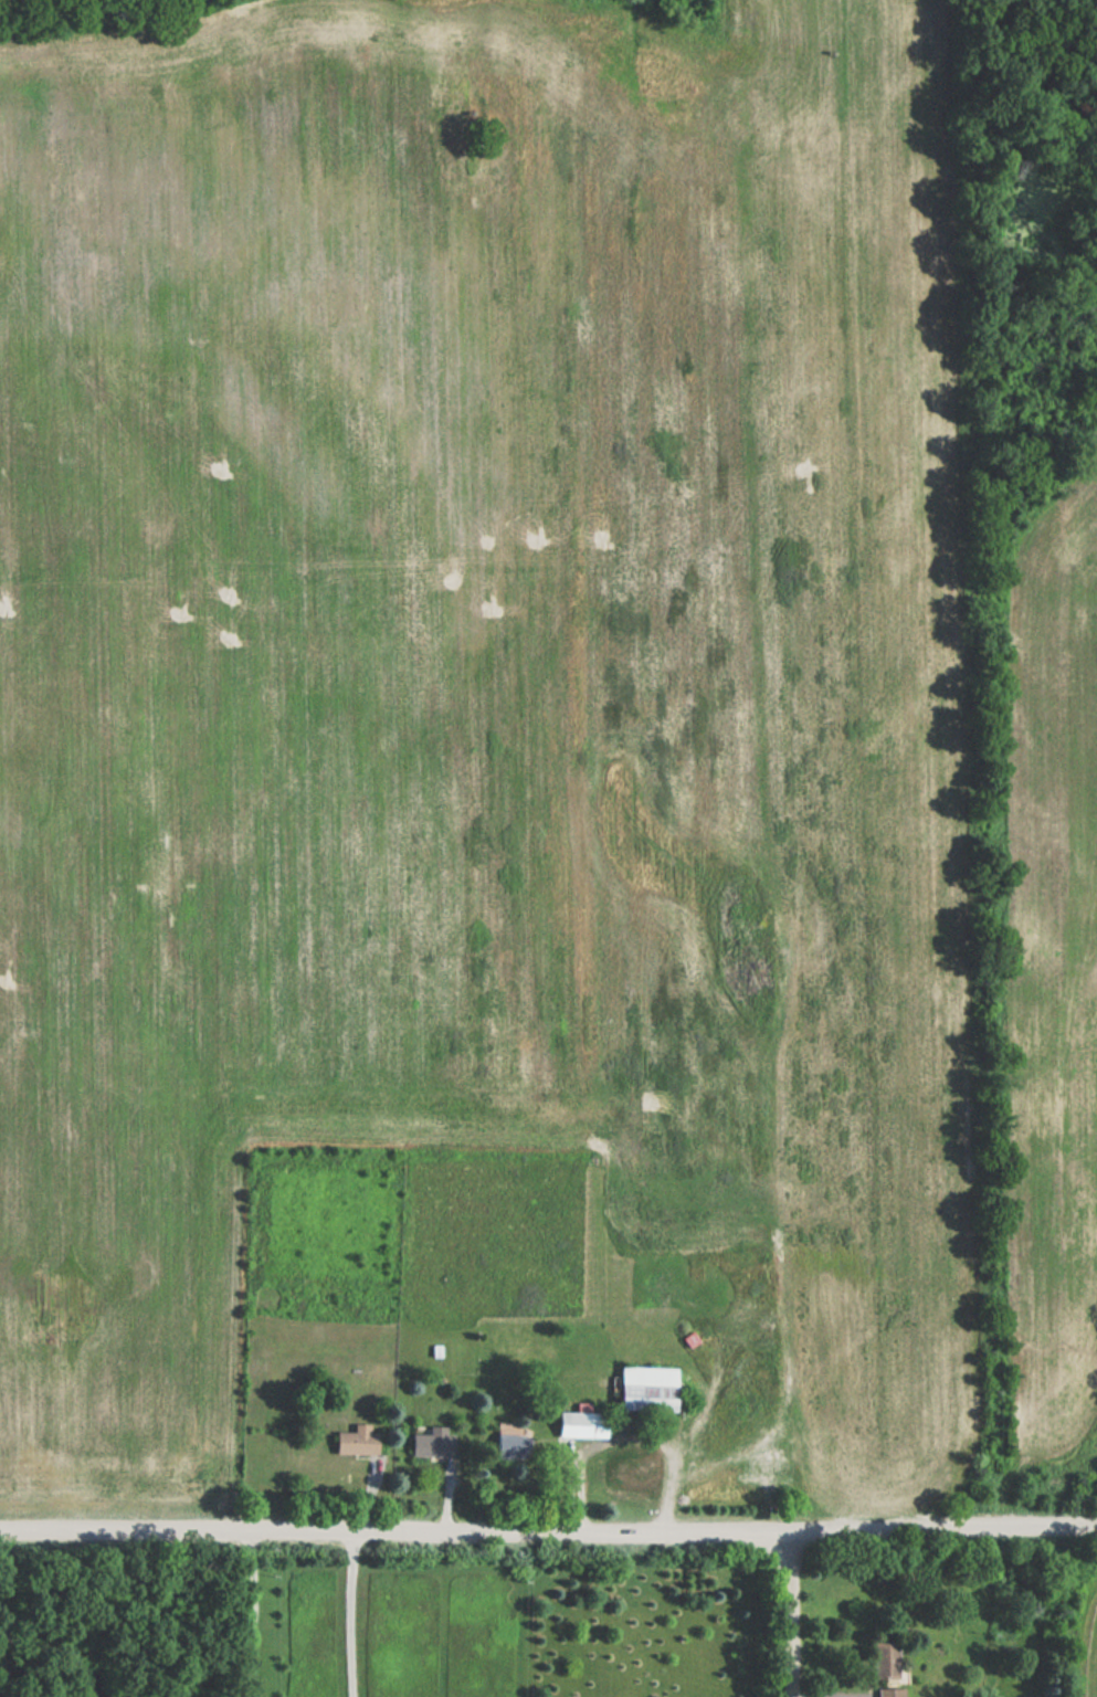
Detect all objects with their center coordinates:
building: (644, 1388)
building: (578, 1424)
road: (627, 1436)
building: (354, 1441)
building: (430, 1443)
building: (506, 1447)
building: (630, 1472)
road: (548, 1531)
road: (349, 1613)
road: (788, 1615)
road: (4, 1620)
road: (251, 1627)
building: (883, 1662)
building: (889, 1691)

